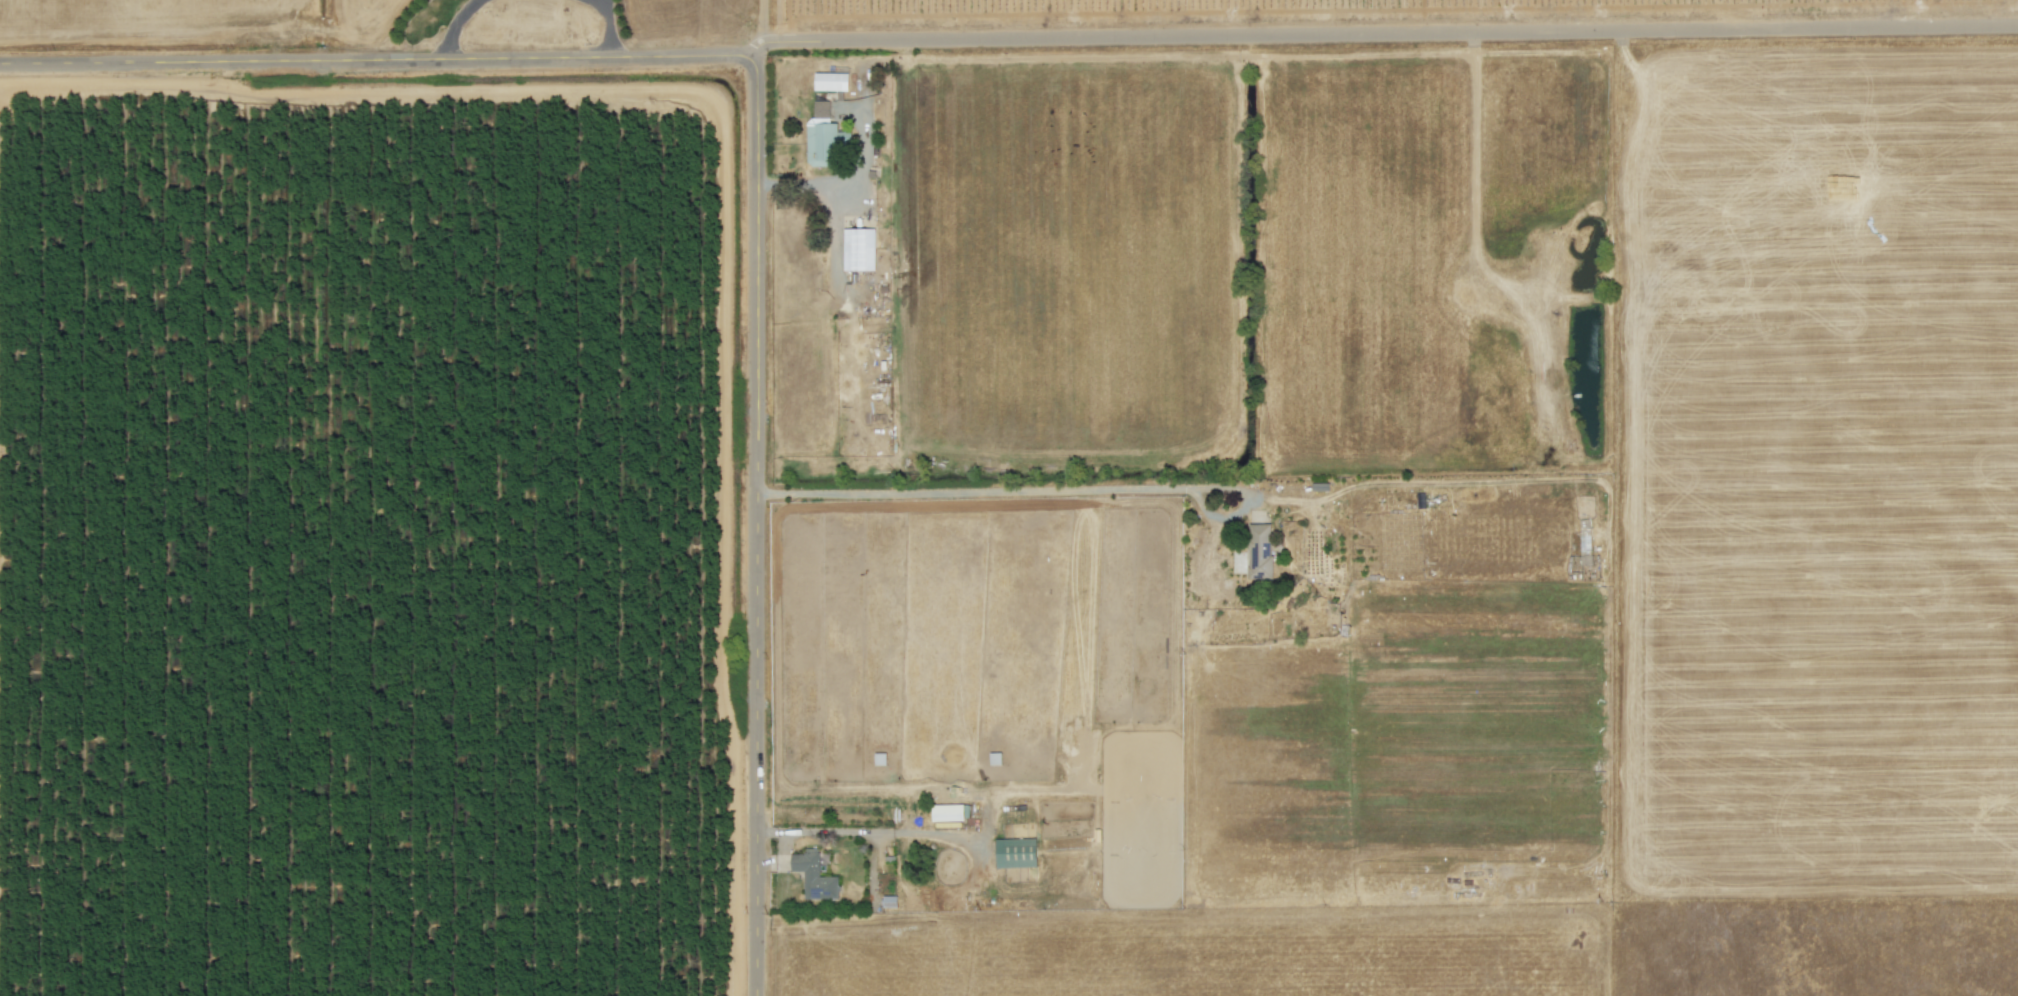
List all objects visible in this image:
road: (600, 6)
road: (456, 26)
road: (760, 27)
road: (607, 28)
road: (1388, 42)
road: (379, 59)
building: (831, 81)
building: (823, 137)
building: (859, 249)
road: (1046, 481)
road: (758, 525)
building: (1260, 551)
building: (947, 812)
building: (1016, 852)
building: (814, 875)

